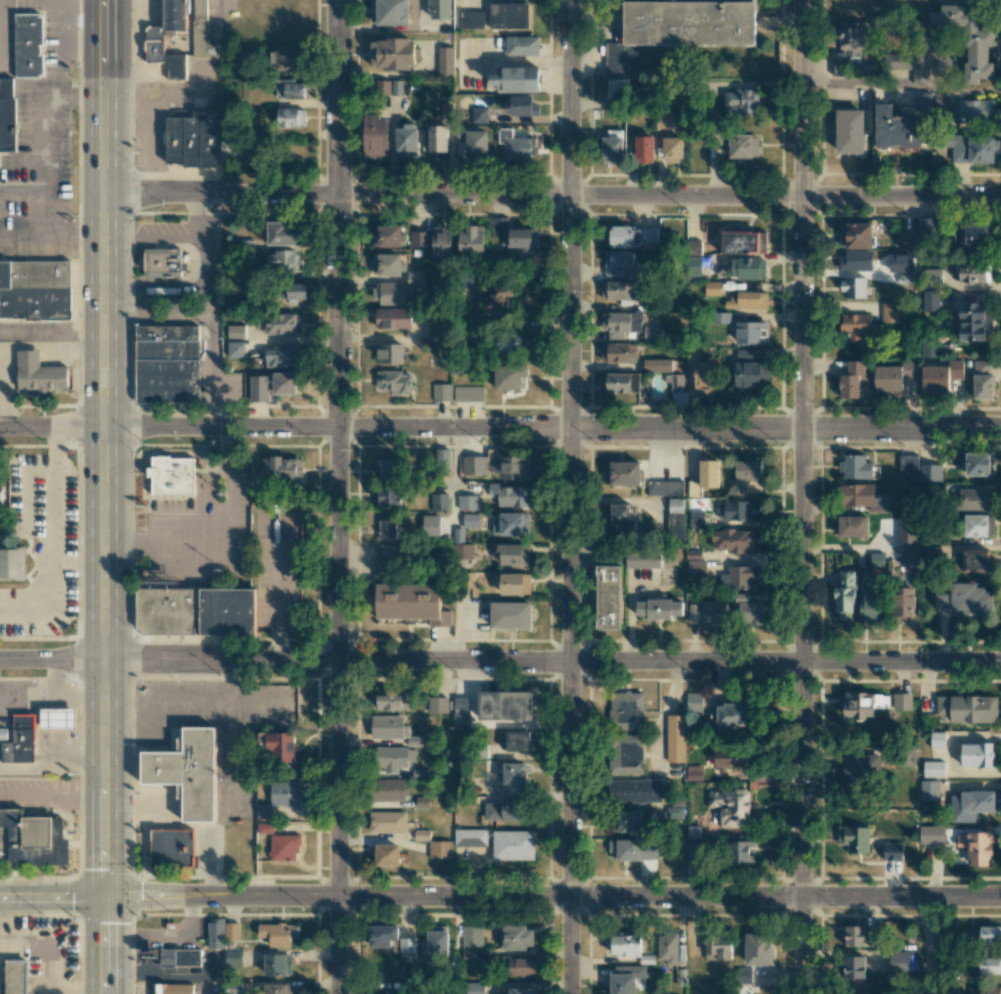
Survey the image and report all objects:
road: (84, 0)
building: (440, 9)
building: (390, 12)
building: (508, 15)
building: (471, 19)
building: (695, 22)
building: (178, 36)
building: (967, 38)
building: (522, 45)
building: (850, 45)
building: (29, 46)
road: (63, 46)
building: (393, 53)
building: (287, 59)
building: (445, 61)
building: (516, 79)
building: (383, 87)
road: (900, 88)
building: (289, 89)
building: (618, 89)
road: (77, 93)
building: (923, 100)
building: (941, 100)
building: (742, 102)
building: (519, 105)
building: (975, 111)
building: (479, 114)
building: (7, 116)
building: (291, 117)
building: (664, 119)
building: (896, 128)
building: (849, 131)
building: (375, 136)
building: (437, 138)
building: (194, 140)
building: (406, 140)
road: (52, 143)
building: (476, 144)
building: (516, 145)
building: (743, 146)
building: (236, 148)
building: (611, 149)
building: (644, 149)
building: (672, 149)
building: (974, 149)
road: (551, 196)
road: (63, 208)
building: (926, 227)
building: (281, 233)
building: (386, 235)
building: (630, 235)
building: (855, 235)
building: (970, 236)
road: (31, 237)
building: (419, 239)
building: (522, 239)
building: (909, 239)
building: (471, 240)
building: (441, 241)
building: (743, 242)
building: (693, 248)
building: (857, 260)
building: (282, 262)
building: (618, 262)
building: (158, 263)
building: (386, 264)
building: (746, 267)
building: (972, 273)
building: (415, 278)
building: (712, 287)
building: (853, 288)
building: (622, 289)
building: (38, 290)
building: (292, 292)
building: (388, 293)
building: (497, 300)
building: (747, 300)
building: (930, 300)
building: (890, 312)
building: (720, 317)
building: (393, 318)
building: (974, 321)
building: (282, 323)
building: (620, 323)
building: (855, 325)
building: (235, 331)
road: (51, 332)
building: (751, 332)
building: (650, 333)
building: (508, 342)
building: (928, 346)
building: (235, 349)
building: (618, 352)
building: (389, 353)
building: (282, 356)
building: (168, 363)
building: (657, 365)
building: (41, 374)
building: (702, 374)
building: (749, 374)
building: (893, 376)
building: (940, 376)
building: (509, 377)
building: (982, 379)
building: (853, 380)
building: (394, 381)
building: (622, 382)
building: (674, 382)
building: (271, 385)
building: (442, 392)
building: (468, 393)
road: (51, 427)
road: (552, 429)
road: (53, 444)
building: (977, 464)
building: (473, 465)
building: (855, 466)
building: (907, 467)
building: (282, 468)
building: (387, 468)
building: (514, 468)
building: (930, 472)
building: (625, 473)
building: (744, 475)
building: (174, 476)
building: (705, 477)
building: (665, 487)
building: (510, 495)
building: (856, 495)
building: (390, 496)
road: (570, 496)
road: (103, 497)
road: (338, 497)
road: (801, 497)
building: (976, 500)
building: (439, 502)
building: (467, 502)
building: (882, 502)
building: (0, 505)
building: (733, 510)
building: (696, 518)
building: (624, 519)
building: (675, 519)
building: (470, 520)
building: (512, 524)
building: (431, 525)
building: (978, 525)
building: (852, 526)
building: (387, 529)
building: (909, 536)
building: (731, 540)
building: (461, 545)
building: (909, 553)
building: (514, 554)
building: (693, 554)
road: (53, 556)
building: (876, 559)
building: (642, 560)
building: (977, 561)
road: (78, 562)
building: (12, 563)
building: (696, 569)
building: (382, 570)
building: (734, 577)
building: (515, 583)
building: (844, 594)
building: (608, 597)
building: (967, 599)
building: (411, 603)
building: (903, 604)
building: (868, 605)
building: (659, 608)
building: (749, 611)
building: (197, 612)
building: (708, 612)
building: (511, 615)
road: (500, 661)
building: (391, 700)
building: (901, 701)
building: (694, 702)
building: (437, 704)
building: (862, 704)
building: (505, 705)
building: (968, 708)
building: (627, 710)
building: (462, 712)
building: (733, 715)
building: (59, 720)
building: (389, 727)
building: (676, 738)
building: (936, 739)
building: (517, 741)
building: (19, 742)
building: (279, 749)
building: (976, 754)
building: (627, 755)
building: (907, 756)
building: (731, 757)
building: (393, 758)
building: (860, 768)
building: (933, 769)
building: (694, 772)
building: (515, 776)
building: (185, 779)
building: (389, 790)
building: (635, 790)
building: (929, 790)
road: (52, 794)
building: (280, 797)
building: (979, 801)
building: (422, 802)
building: (731, 806)
building: (504, 810)
building: (629, 820)
building: (387, 822)
building: (693, 832)
building: (931, 834)
building: (422, 835)
building: (470, 837)
building: (854, 838)
building: (32, 840)
building: (513, 845)
building: (976, 846)
building: (285, 847)
building: (173, 849)
building: (440, 849)
building: (696, 849)
building: (633, 850)
building: (740, 851)
building: (892, 851)
building: (384, 854)
traffic signals: (106, 895)
road: (500, 898)
building: (232, 931)
building: (215, 933)
building: (276, 934)
building: (382, 935)
building: (990, 935)
building: (472, 936)
building: (854, 936)
building: (517, 937)
building: (436, 942)
building: (625, 945)
building: (668, 947)
building: (407, 948)
building: (718, 948)
building: (758, 949)
building: (470, 953)
building: (182, 957)
building: (899, 961)
building: (278, 964)
building: (518, 966)
building: (858, 973)
building: (17, 976)
building: (743, 976)
building: (626, 979)
building: (171, 988)
building: (473, 988)
building: (278, 989)
building: (985, 990)
building: (519, 991)
building: (390, 992)

